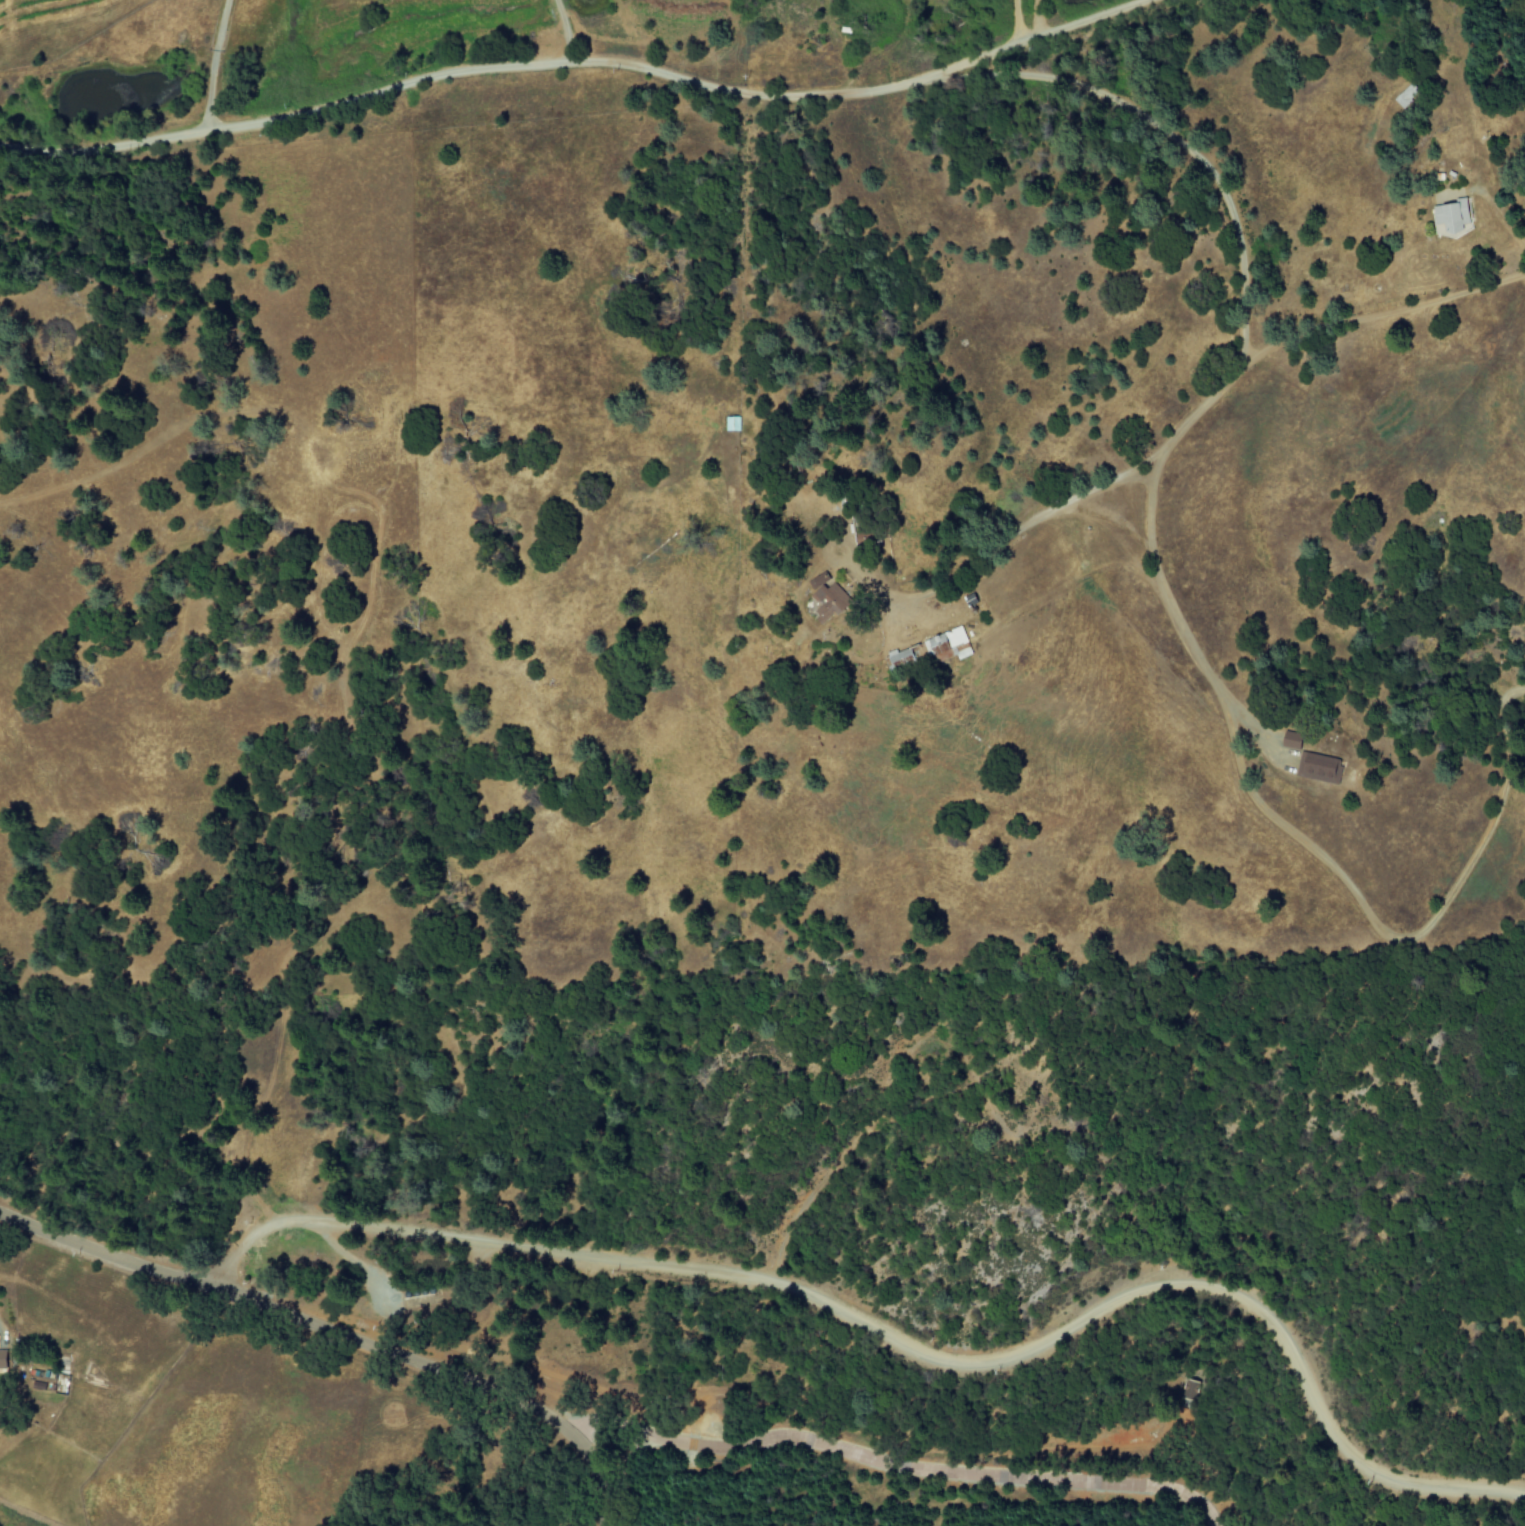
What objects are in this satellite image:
crop: (12, 4)
road: (1012, 23)
road: (570, 32)
road: (577, 65)
road: (209, 67)
building: (1405, 96)
road: (1182, 144)
building: (1449, 219)
building: (731, 423)
building: (824, 596)
building: (946, 645)
building: (898, 657)
road: (1209, 672)
building: (1290, 740)
building: (1318, 767)
road: (336, 1333)
road: (901, 1343)
building: (2, 1360)

